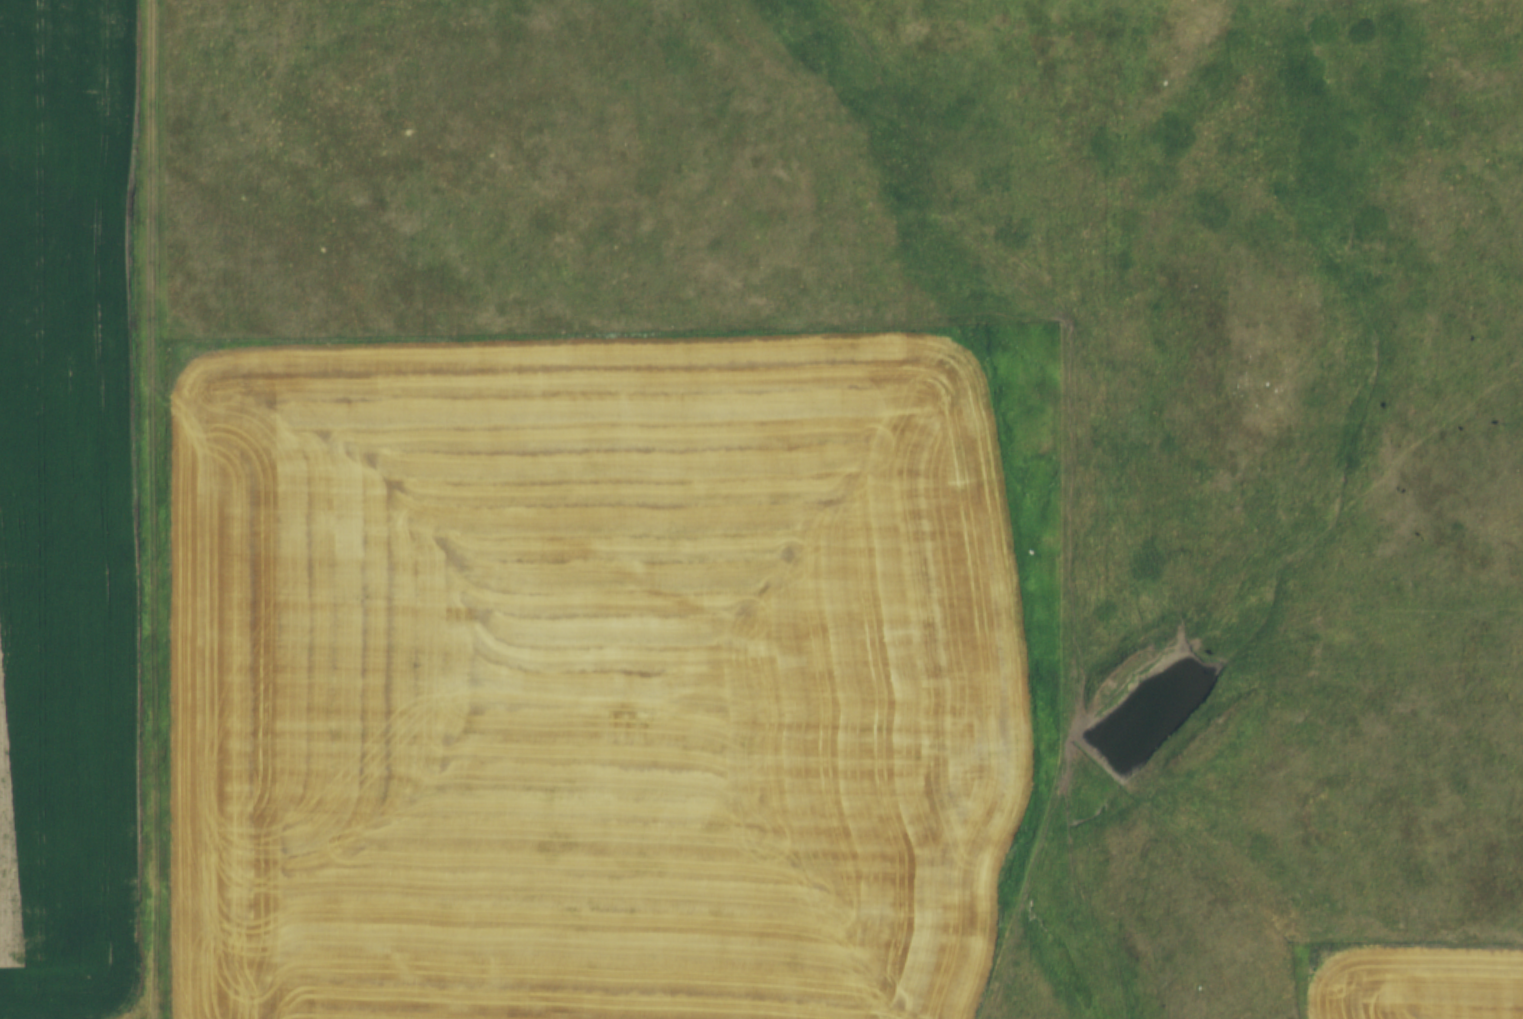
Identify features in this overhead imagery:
crop: (62, 508)
crop: (592, 678)
crop: (1417, 982)

